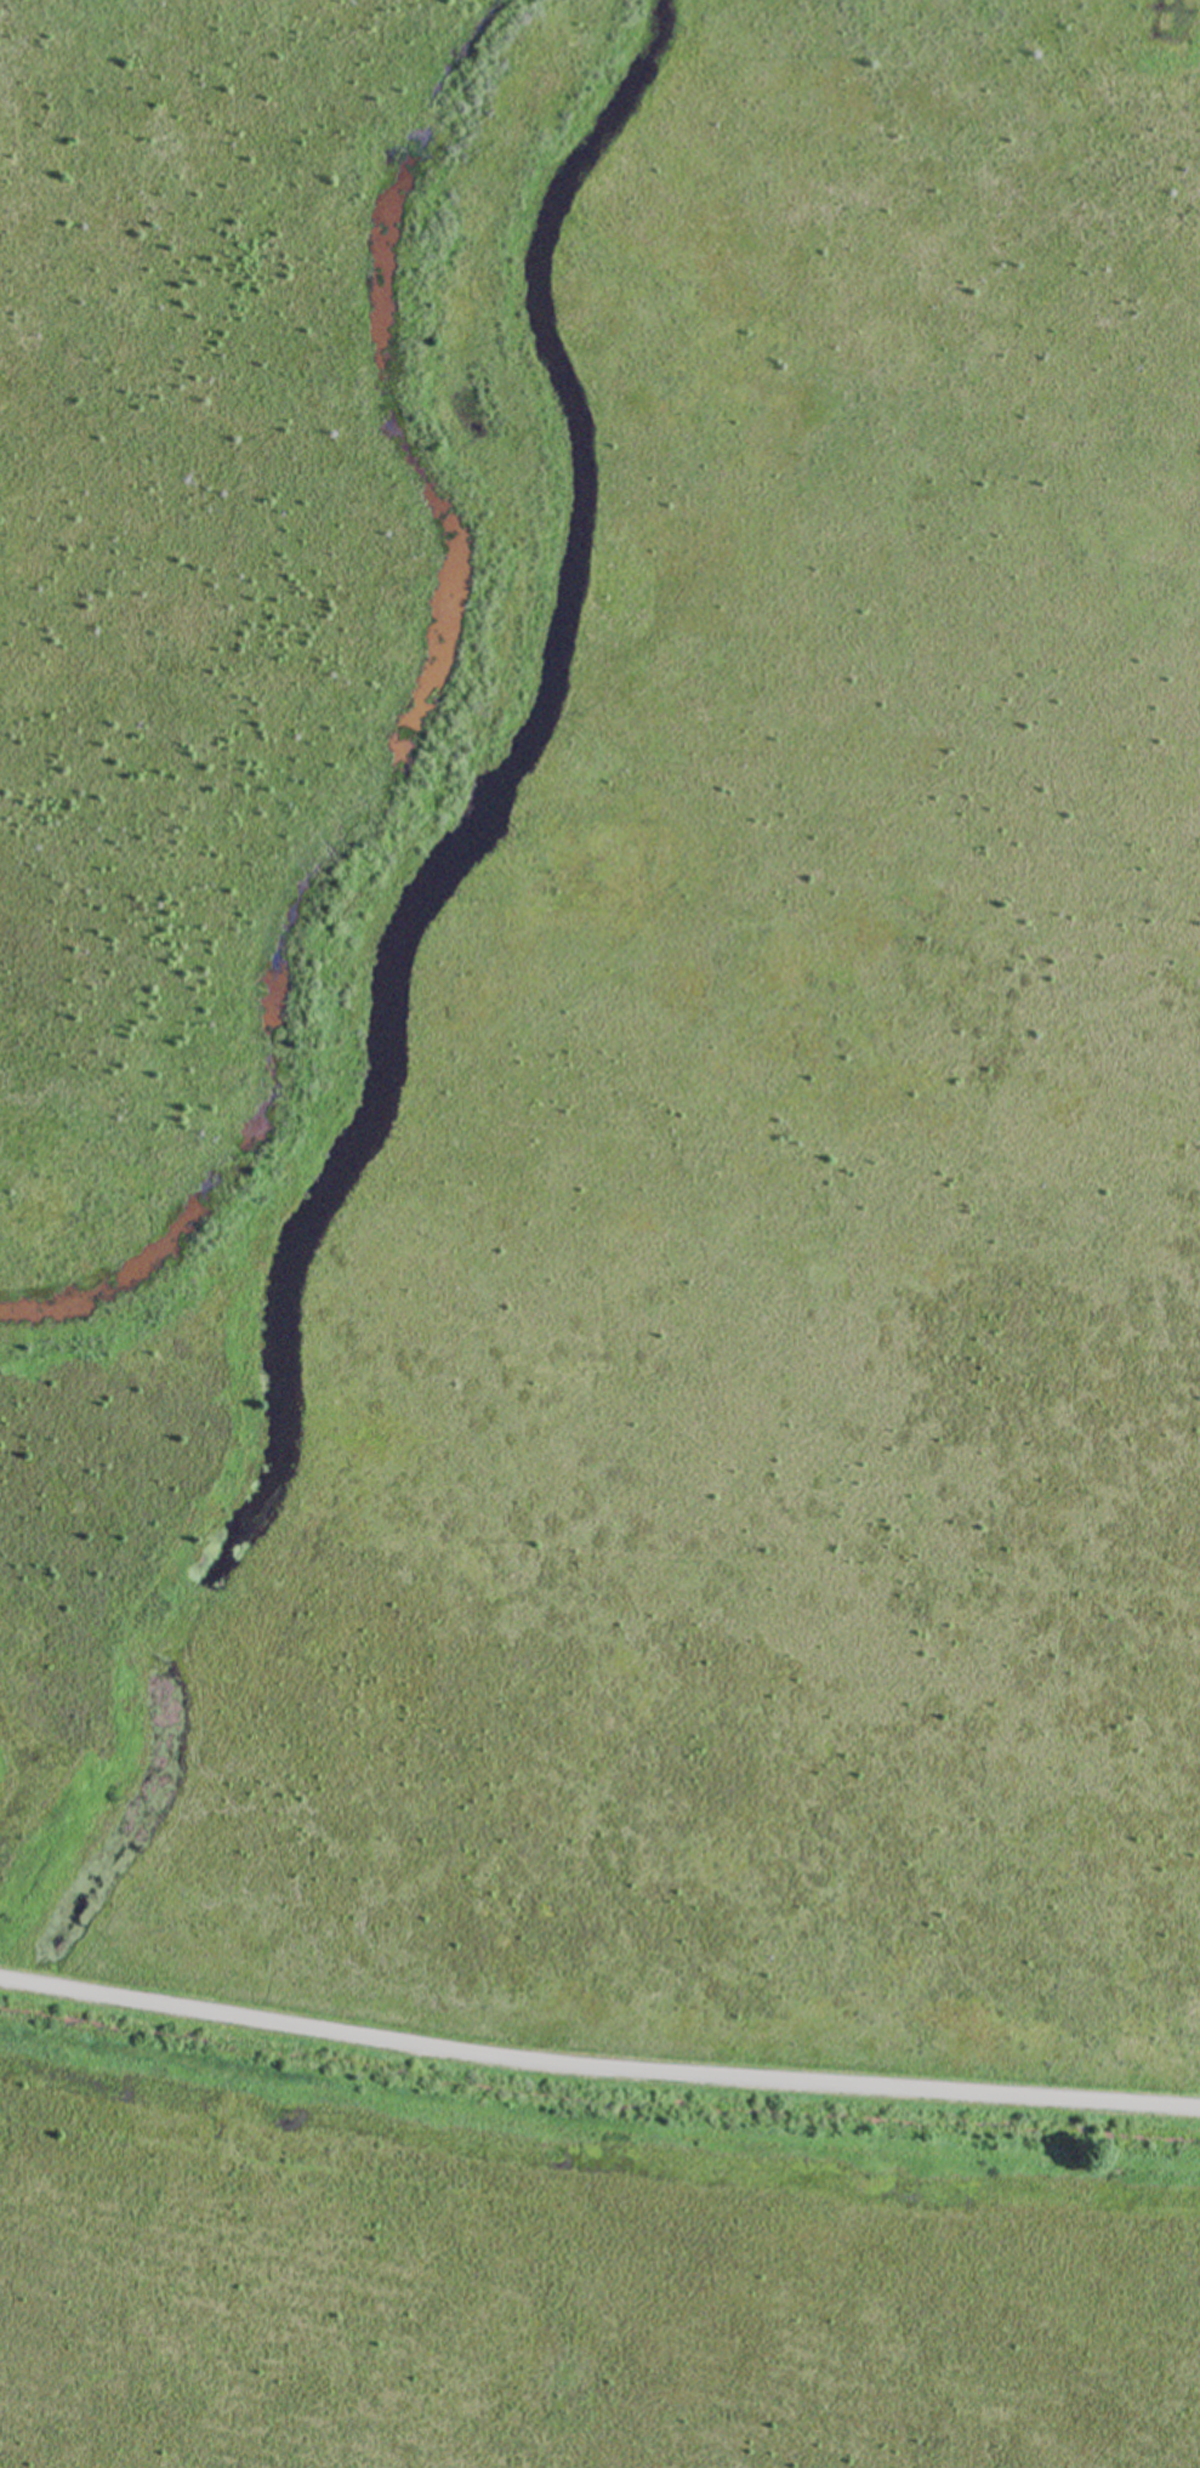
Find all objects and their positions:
road: (597, 2065)

